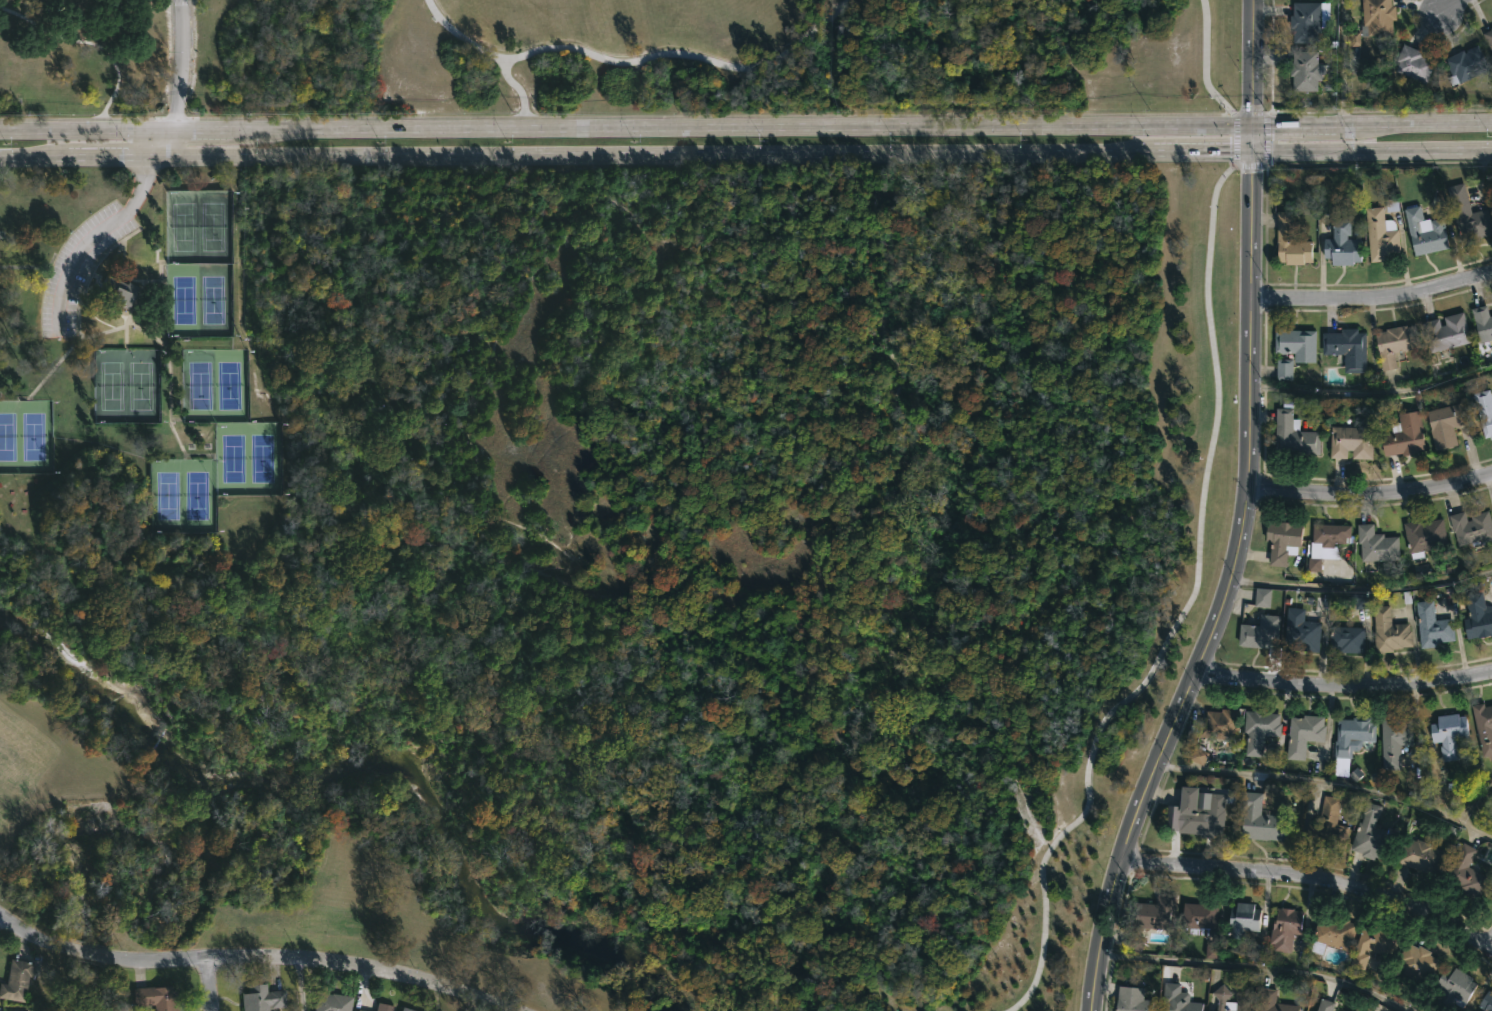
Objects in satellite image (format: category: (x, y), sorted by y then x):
road: (1452, 8)
building: (1376, 18)
building: (1308, 21)
building: (1488, 39)
road: (88, 40)
park: (615, 57)
road: (636, 59)
road: (1204, 60)
road: (1250, 61)
road: (1341, 61)
road: (177, 63)
building: (1412, 64)
building: (1464, 65)
building: (1304, 71)
road: (515, 86)
road: (1231, 112)
road: (1249, 113)
road: (613, 116)
road: (1416, 121)
road: (1295, 122)
traffic signals: (1250, 123)
road: (741, 124)
road: (204, 126)
road: (88, 127)
road: (1250, 134)
road: (1263, 138)
road: (1235, 139)
road: (176, 141)
road: (1371, 145)
traffic signals: (1250, 146)
road: (624, 151)
road: (1249, 165)
road: (1229, 167)
building: (1391, 206)
building: (1468, 215)
park: (181, 225)
park: (213, 225)
building: (1425, 231)
building: (1381, 235)
road: (94, 239)
building: (1290, 242)
building: (1341, 244)
parking lot: (77, 266)
building: (116, 293)
park: (215, 298)
road: (1372, 298)
park: (181, 299)
building: (1482, 322)
building: (1446, 331)
building: (1296, 343)
building: (1395, 343)
road: (68, 346)
building: (1346, 348)
road: (168, 366)
building: (1284, 369)
park: (230, 384)
park: (108, 385)
park: (141, 385)
park: (197, 385)
road: (1371, 391)
building: (1484, 410)
building: (1447, 424)
park: (8, 435)
park: (34, 435)
building: (1293, 435)
building: (1404, 435)
building: (1351, 442)
park: (263, 459)
park: (230, 460)
park: (607, 480)
road: (1368, 494)
park: (164, 495)
park: (197, 495)
park: (646, 527)
building: (1472, 528)
building: (1424, 536)
building: (1282, 540)
building: (1326, 541)
building: (1376, 544)
road: (1223, 588)
building: (1262, 598)
building: (1361, 601)
road: (1177, 615)
building: (1477, 617)
building: (1432, 625)
building: (1259, 630)
building: (1301, 631)
building: (1388, 632)
building: (1347, 639)
road: (1342, 685)
building: (1218, 725)
building: (1483, 728)
building: (1260, 729)
building: (1303, 734)
building: (1448, 734)
building: (1352, 735)
building: (1393, 739)
building: (1198, 756)
road: (1310, 779)
building: (1199, 814)
road: (1463, 816)
building: (1261, 820)
building: (1327, 825)
building: (1373, 836)
building: (1420, 856)
building: (1464, 873)
road: (1314, 879)
building: (1154, 913)
building: (1199, 917)
building: (1242, 920)
building: (1285, 928)
building: (1332, 934)
road: (1489, 944)
building: (1133, 945)
building: (1371, 945)
building: (1212, 952)
building: (1256, 953)
road: (255, 958)
building: (1417, 963)
road: (1257, 968)
building: (16, 980)
road: (208, 984)
road: (300, 985)
building: (1457, 985)
building: (156, 997)
building: (1221, 997)
building: (262, 998)
building: (1177, 999)
building: (1131, 1000)
building: (334, 1002)
building: (1272, 1002)
building: (1486, 1002)
building: (1325, 1005)
building: (382, 1007)
building: (408, 1009)
building: (357, 1010)

